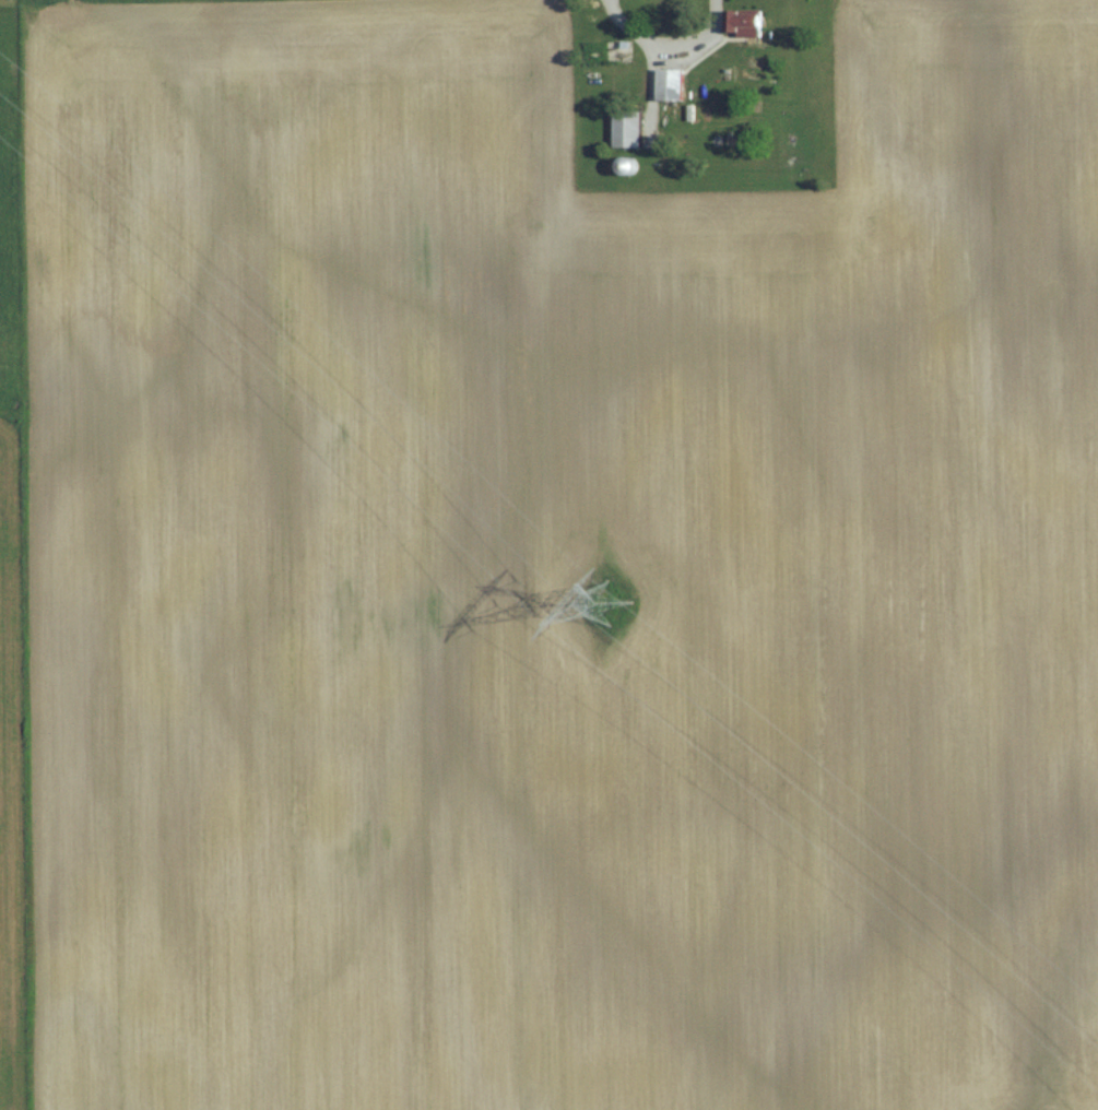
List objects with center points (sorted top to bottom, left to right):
building: (745, 24)
building: (671, 85)
building: (628, 129)
building: (630, 166)
power tower: (601, 592)

